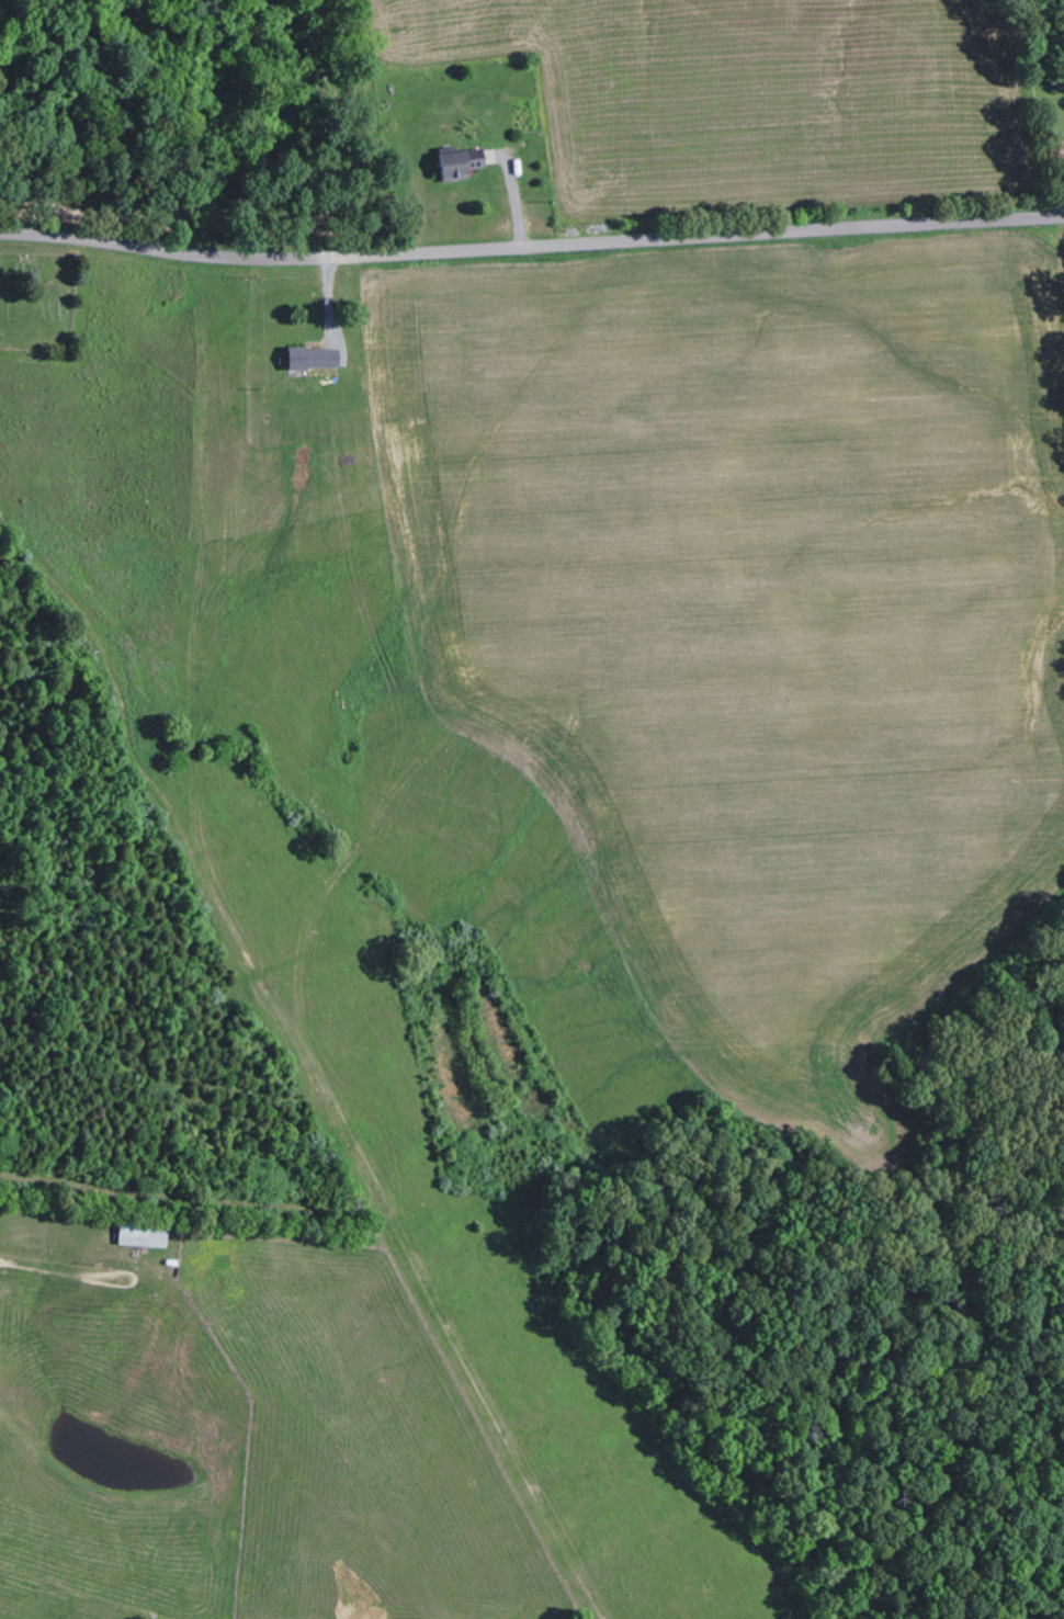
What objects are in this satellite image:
building: (465, 162)
road: (531, 249)
park: (38, 299)
building: (317, 359)
road: (237, 701)
building: (146, 1236)

